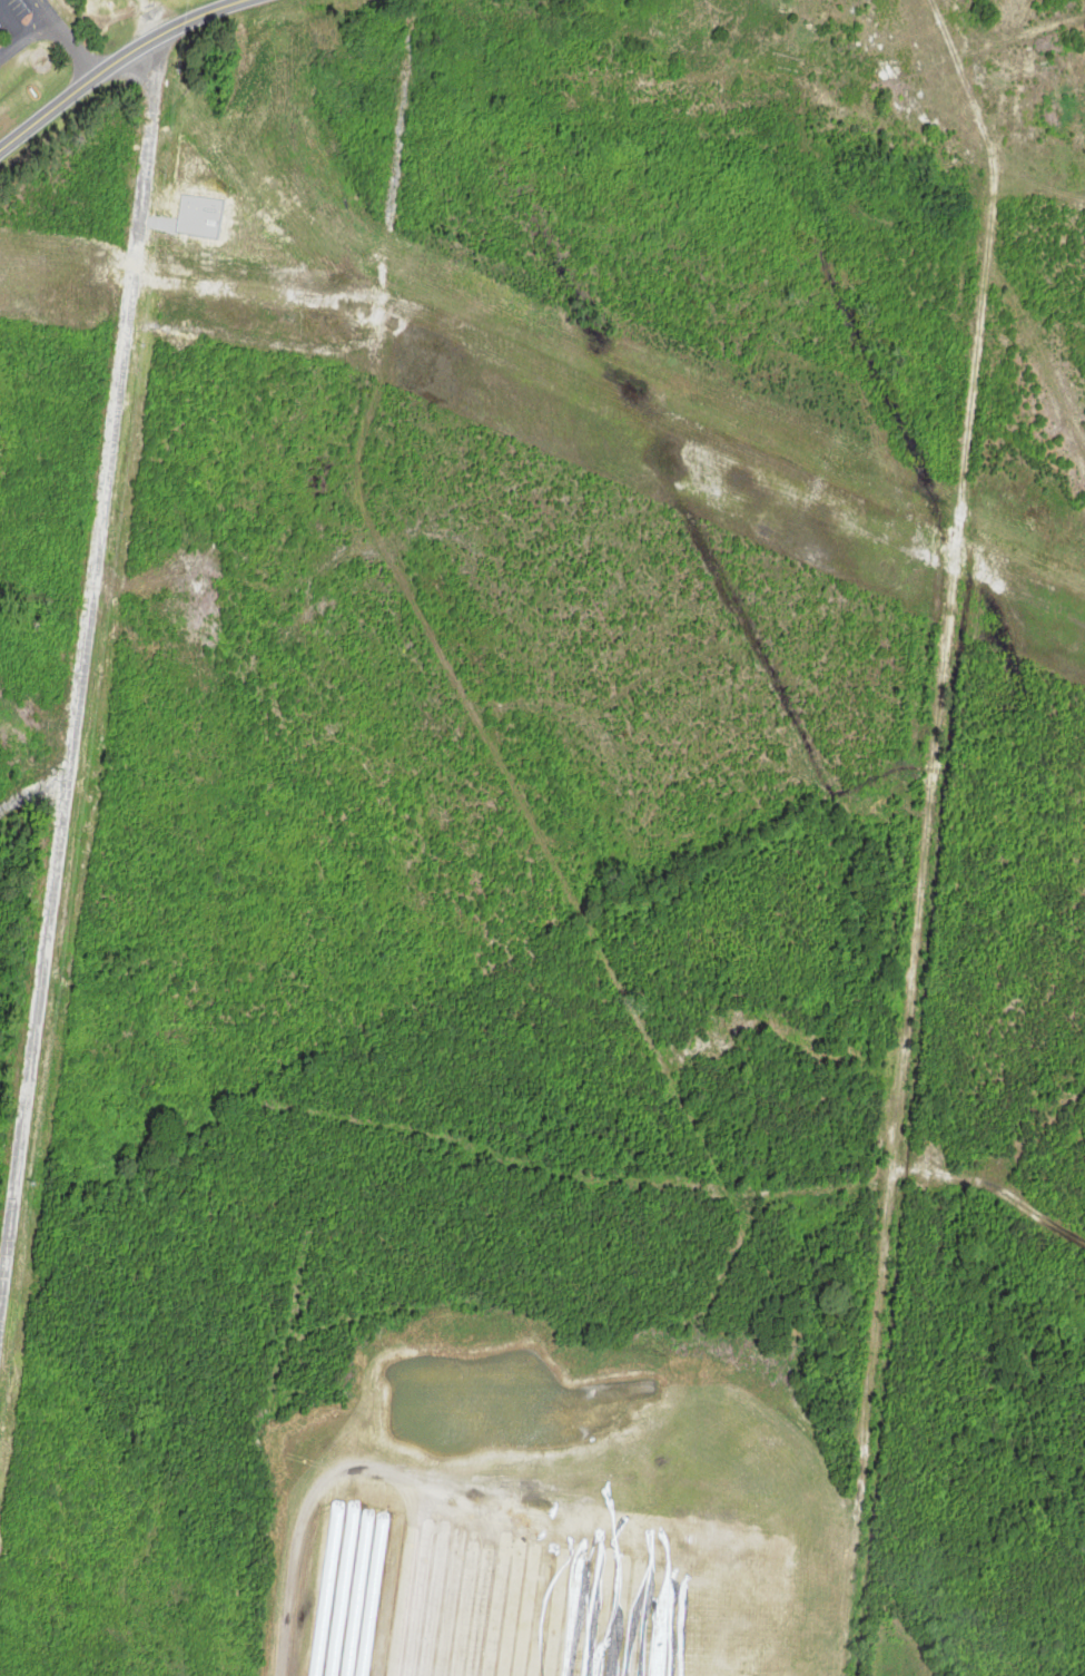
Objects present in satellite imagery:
road: (43, 11)
parking lot: (23, 23)
road: (13, 26)
road: (26, 42)
road: (78, 47)
road: (115, 62)
road: (80, 665)
road: (32, 792)

